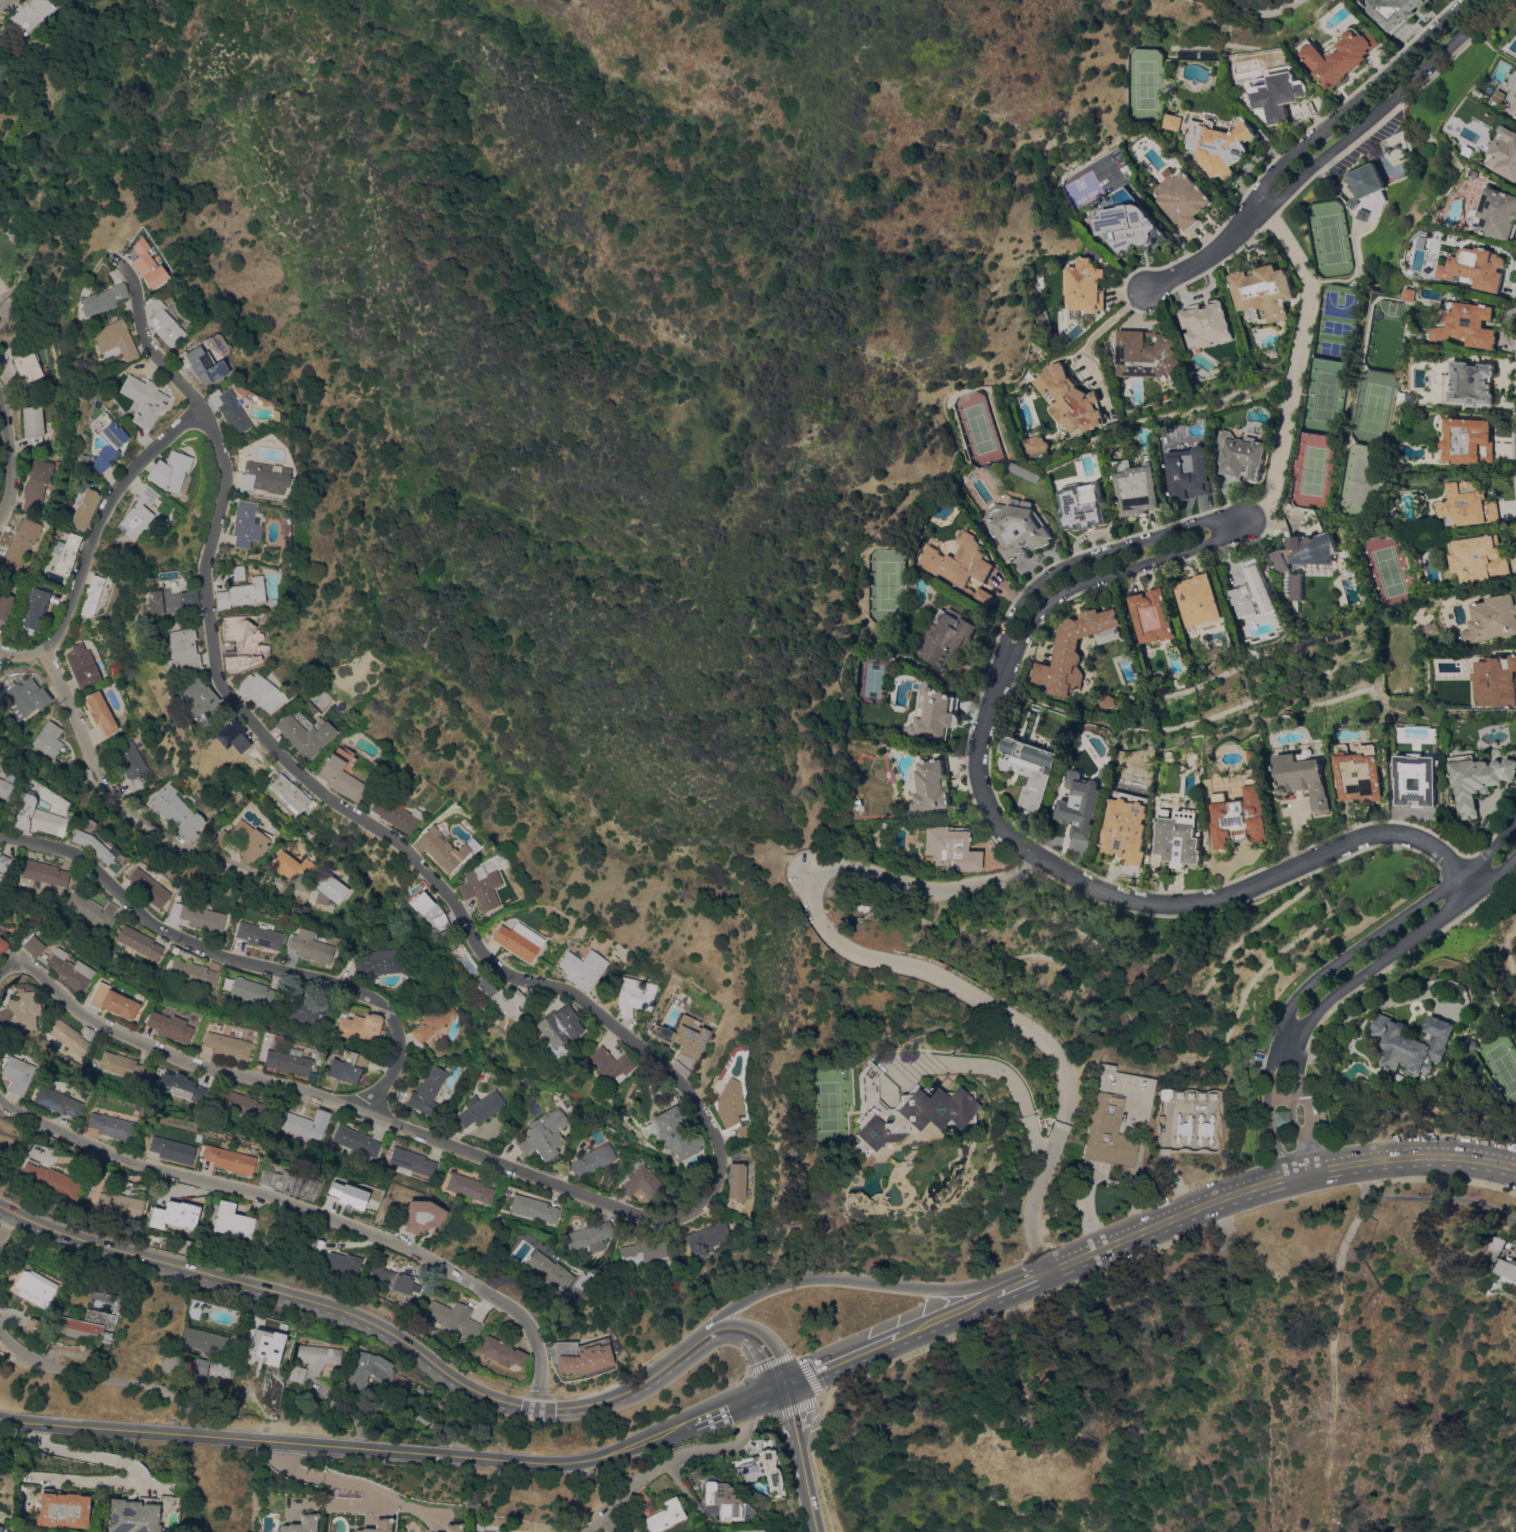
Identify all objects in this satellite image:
road: (3, 3)
building: (1393, 10)
building: (31, 11)
building: (1339, 56)
building: (1277, 94)
road: (1356, 97)
building: (1515, 104)
road: (1382, 107)
building: (1515, 112)
building: (1173, 122)
building: (1218, 146)
building: (1506, 151)
building: (1367, 181)
building: (1182, 197)
building: (1355, 203)
building: (1499, 213)
building: (1365, 215)
building: (1130, 228)
road: (1205, 257)
building: (146, 264)
building: (1482, 267)
building: (1082, 287)
building: (1263, 290)
building: (1415, 294)
building: (101, 299)
road: (4, 313)
building: (163, 322)
building: (1205, 324)
building: (1473, 325)
road: (1105, 327)
building: (113, 340)
building: (1144, 356)
road: (1297, 359)
building: (200, 364)
building: (26, 366)
building: (1473, 384)
building: (139, 396)
building: (1066, 398)
building: (227, 408)
building: (274, 414)
building: (33, 424)
building: (106, 440)
building: (1470, 441)
building: (1032, 446)
road: (8, 452)
building: (963, 456)
building: (1243, 456)
building: (172, 472)
building: (1189, 473)
building: (263, 477)
building: (37, 484)
building: (1137, 486)
building: (283, 502)
building: (1469, 505)
building: (1082, 506)
building: (83, 509)
building: (138, 513)
building: (245, 523)
building: (1017, 526)
road: (94, 537)
building: (21, 542)
building: (1304, 552)
building: (66, 553)
road: (1097, 553)
building: (1481, 558)
building: (959, 565)
road: (1113, 573)
building: (240, 588)
building: (1254, 590)
building: (92, 596)
building: (1199, 600)
building: (168, 602)
building: (6, 605)
building: (34, 605)
building: (1153, 618)
building: (1492, 619)
building: (881, 626)
building: (1430, 629)
building: (946, 636)
building: (241, 643)
building: (182, 650)
building: (1075, 650)
building: (82, 665)
building: (1495, 681)
building: (1395, 690)
building: (262, 692)
building: (193, 696)
building: (27, 697)
building: (1104, 701)
building: (212, 706)
building: (100, 712)
building: (933, 714)
building: (1137, 714)
building: (304, 735)
building: (230, 736)
building: (48, 738)
building: (1253, 755)
building: (131, 763)
building: (79, 769)
building: (1031, 769)
building: (1361, 773)
building: (340, 777)
building: (1306, 778)
building: (1478, 779)
building: (1404, 784)
building: (931, 785)
building: (5, 789)
building: (288, 792)
building: (1081, 804)
building: (177, 812)
building: (395, 813)
building: (37, 816)
building: (1241, 816)
road: (134, 817)
building: (1127, 827)
road: (805, 828)
building: (1180, 837)
building: (246, 839)
building: (949, 847)
building: (443, 848)
building: (99, 849)
building: (0, 851)
building: (490, 863)
building: (292, 864)
building: (7, 865)
building: (45, 873)
building: (149, 887)
building: (481, 887)
building: (331, 889)
road: (1156, 902)
building: (427, 911)
building: (93, 912)
building: (198, 916)
building: (1, 930)
building: (260, 935)
building: (519, 940)
road: (836, 941)
building: (140, 942)
building: (3, 945)
building: (311, 945)
road: (238, 959)
building: (386, 960)
road: (1381, 961)
building: (360, 964)
building: (62, 966)
road: (1332, 966)
building: (583, 968)
building: (195, 972)
building: (251, 992)
building: (634, 995)
building: (499, 996)
building: (113, 1001)
building: (696, 1002)
building: (20, 1012)
building: (310, 1013)
building: (178, 1018)
building: (435, 1020)
road: (604, 1022)
building: (559, 1026)
building: (169, 1027)
building: (363, 1028)
building: (70, 1034)
building: (682, 1035)
building: (1417, 1043)
building: (228, 1045)
building: (1476, 1045)
building: (50, 1049)
building: (289, 1061)
building: (609, 1064)
building: (123, 1065)
building: (347, 1066)
building: (18, 1074)
building: (182, 1086)
building: (428, 1091)
building: (1163, 1094)
road: (1016, 1095)
building: (730, 1100)
building: (59, 1101)
building: (241, 1103)
building: (478, 1109)
building: (905, 1110)
building: (1280, 1117)
power substation: (1185, 1118)
building: (306, 1124)
building: (112, 1126)
building: (1183, 1128)
building: (1204, 1128)
building: (676, 1132)
building: (745, 1132)
building: (1108, 1132)
building: (544, 1134)
road: (1307, 1134)
building: (356, 1140)
building: (172, 1149)
building: (908, 1153)
road: (1418, 1156)
building: (231, 1159)
building: (594, 1159)
building: (411, 1161)
road: (1297, 1175)
building: (582, 1176)
building: (51, 1178)
building: (737, 1182)
building: (291, 1183)
building: (644, 1183)
road: (1259, 1186)
building: (471, 1188)
road: (1032, 1193)
road: (1230, 1195)
building: (349, 1196)
road: (1429, 1197)
building: (121, 1203)
building: (534, 1208)
building: (177, 1214)
road: (306, 1214)
building: (422, 1215)
building: (233, 1220)
road: (1127, 1231)
building: (590, 1236)
building: (709, 1237)
building: (188, 1241)
building: (644, 1250)
building: (1492, 1250)
building: (343, 1263)
building: (1507, 1268)
building: (550, 1269)
road: (1019, 1275)
road: (846, 1278)
building: (392, 1279)
building: (584, 1282)
building: (38, 1291)
road: (947, 1306)
building: (196, 1307)
building: (454, 1318)
road: (364, 1321)
building: (93, 1322)
building: (33, 1325)
road: (757, 1336)
building: (204, 1340)
building: (264, 1344)
building: (501, 1351)
road: (839, 1354)
building: (583, 1355)
building: (318, 1356)
building: (200, 1368)
building: (220, 1369)
building: (369, 1370)
building: (296, 1373)
road: (109, 1378)
traffic signals: (782, 1380)
building: (421, 1389)
road: (741, 1397)
road: (790, 1414)
road: (354, 1448)
road: (667, 1457)
road: (123, 1464)
building: (761, 1466)
road: (355, 1483)
road: (809, 1490)
road: (689, 1498)
building: (721, 1499)
road: (334, 1504)
building: (62, 1510)
building: (662, 1515)
building: (132, 1516)
building: (302, 1524)
building: (378, 1525)
building: (453, 1527)
building: (0, 1528)
building: (481, 1528)
building: (549, 1530)
building: (749, 1530)

